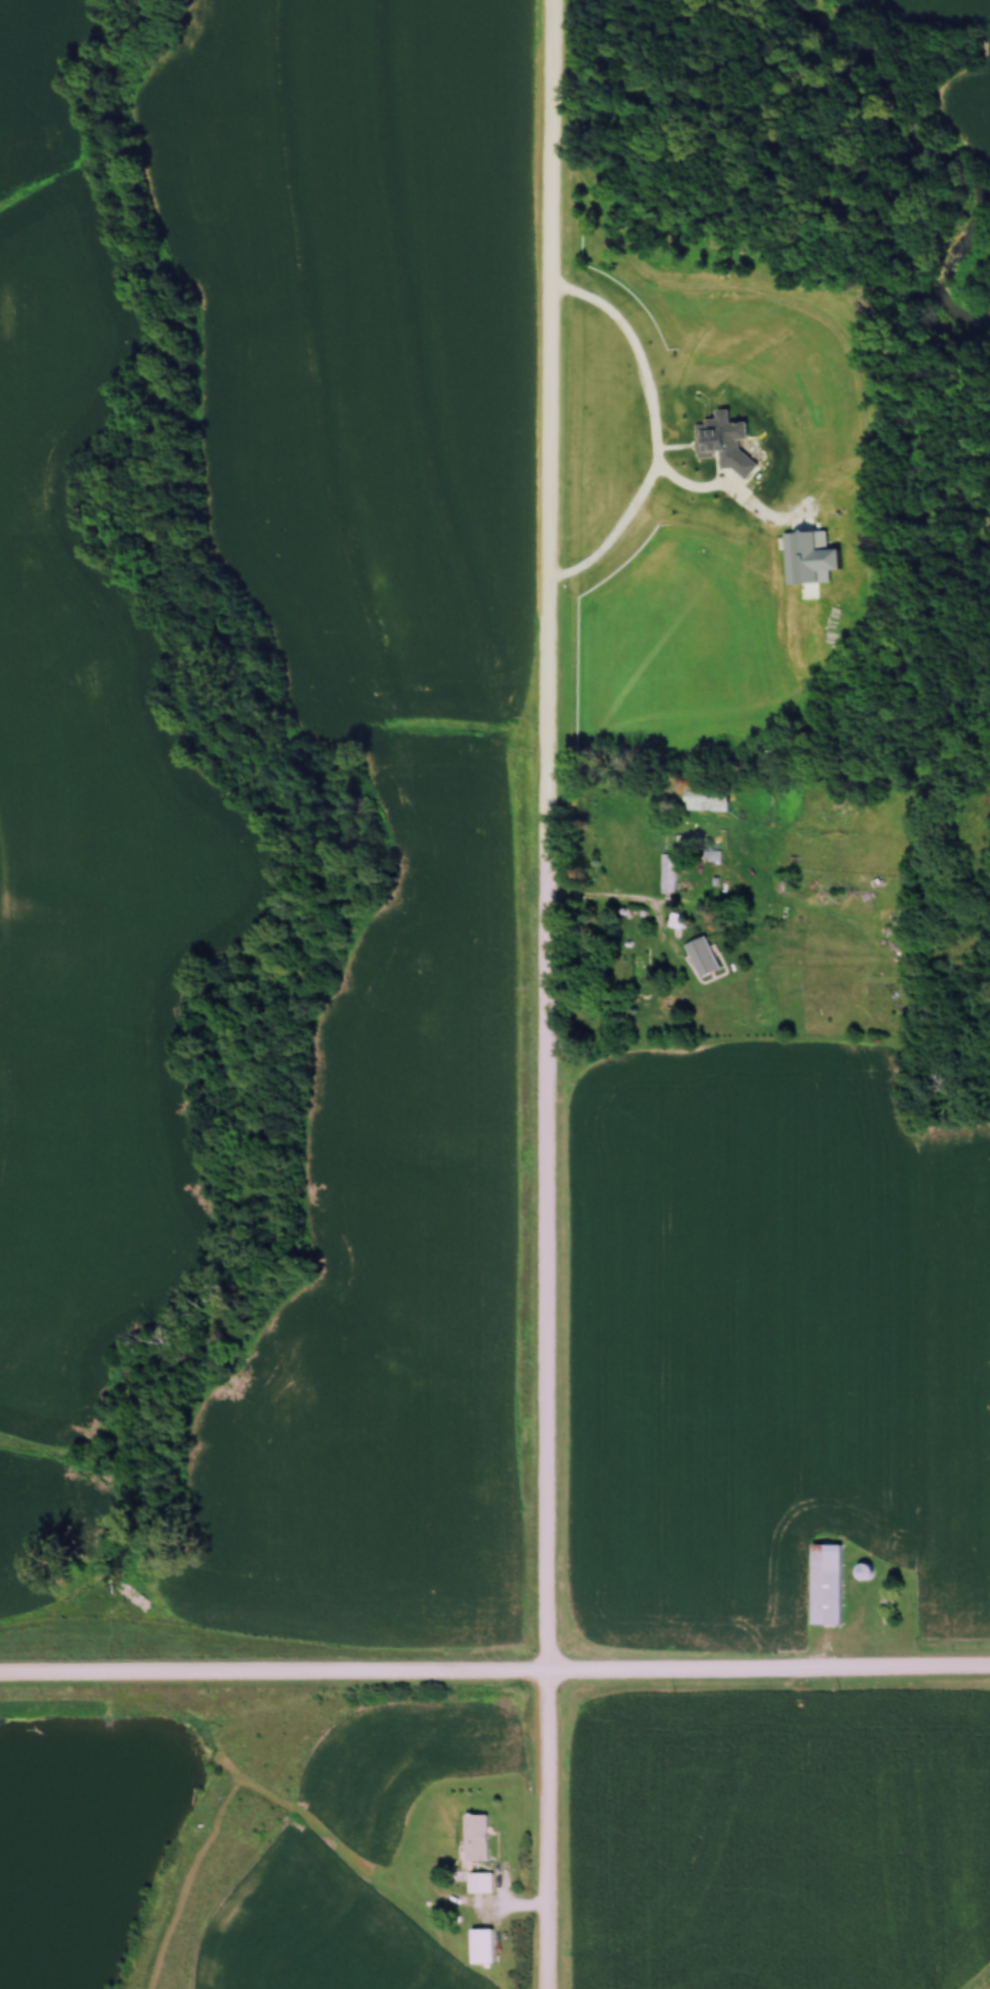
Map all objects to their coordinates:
river: (946, 157)
road: (650, 431)
building: (707, 800)
building: (712, 855)
building: (668, 873)
road: (606, 896)
building: (638, 974)
road: (547, 994)
building: (862, 1572)
building: (825, 1585)
road: (495, 1673)
building: (475, 1837)
building: (481, 1946)

